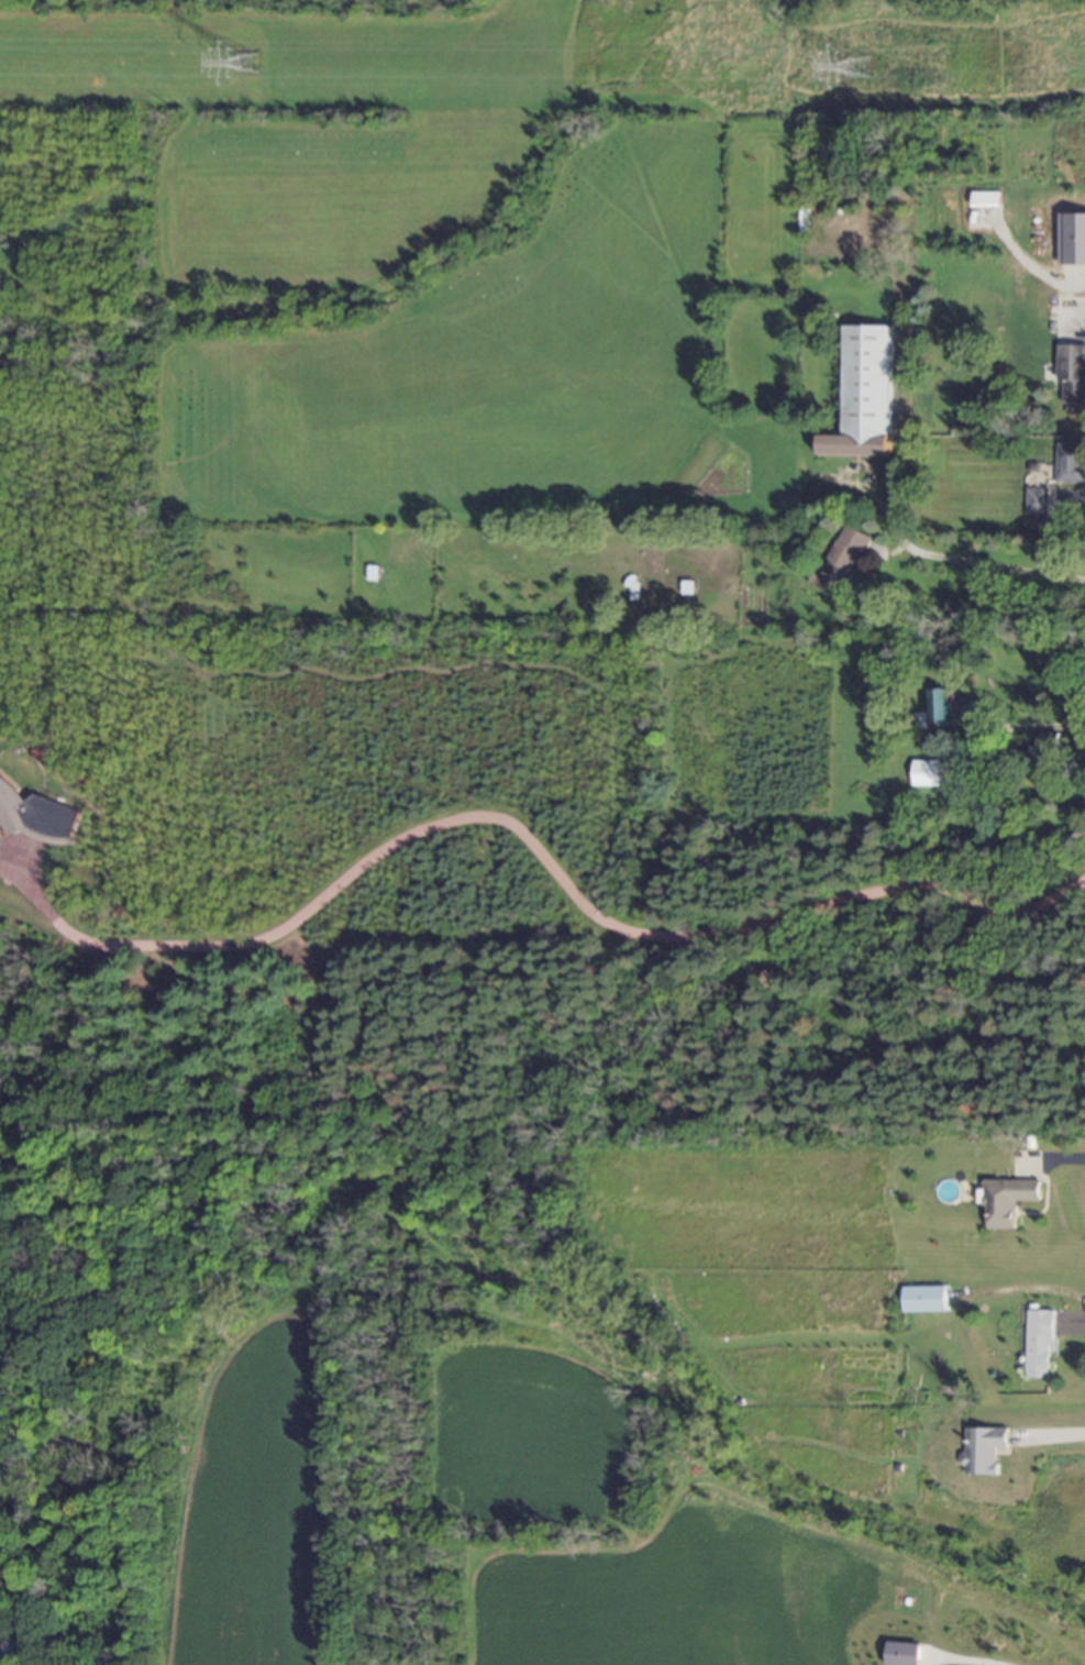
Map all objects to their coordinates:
power tower: (241, 76)
power tower: (852, 79)
building: (986, 199)
building: (805, 218)
building: (1071, 240)
building: (1072, 374)
building: (864, 395)
building: (1070, 463)
building: (1038, 500)
building: (841, 560)
road: (957, 563)
building: (942, 707)
building: (1044, 749)
building: (926, 773)
building: (34, 816)
road: (538, 856)
road: (1055, 1165)
building: (1006, 1200)
building: (925, 1299)
building: (1039, 1344)
road: (1050, 1438)
building: (985, 1451)
crop: (489, 1521)
building: (8, 1647)
building: (903, 1653)

